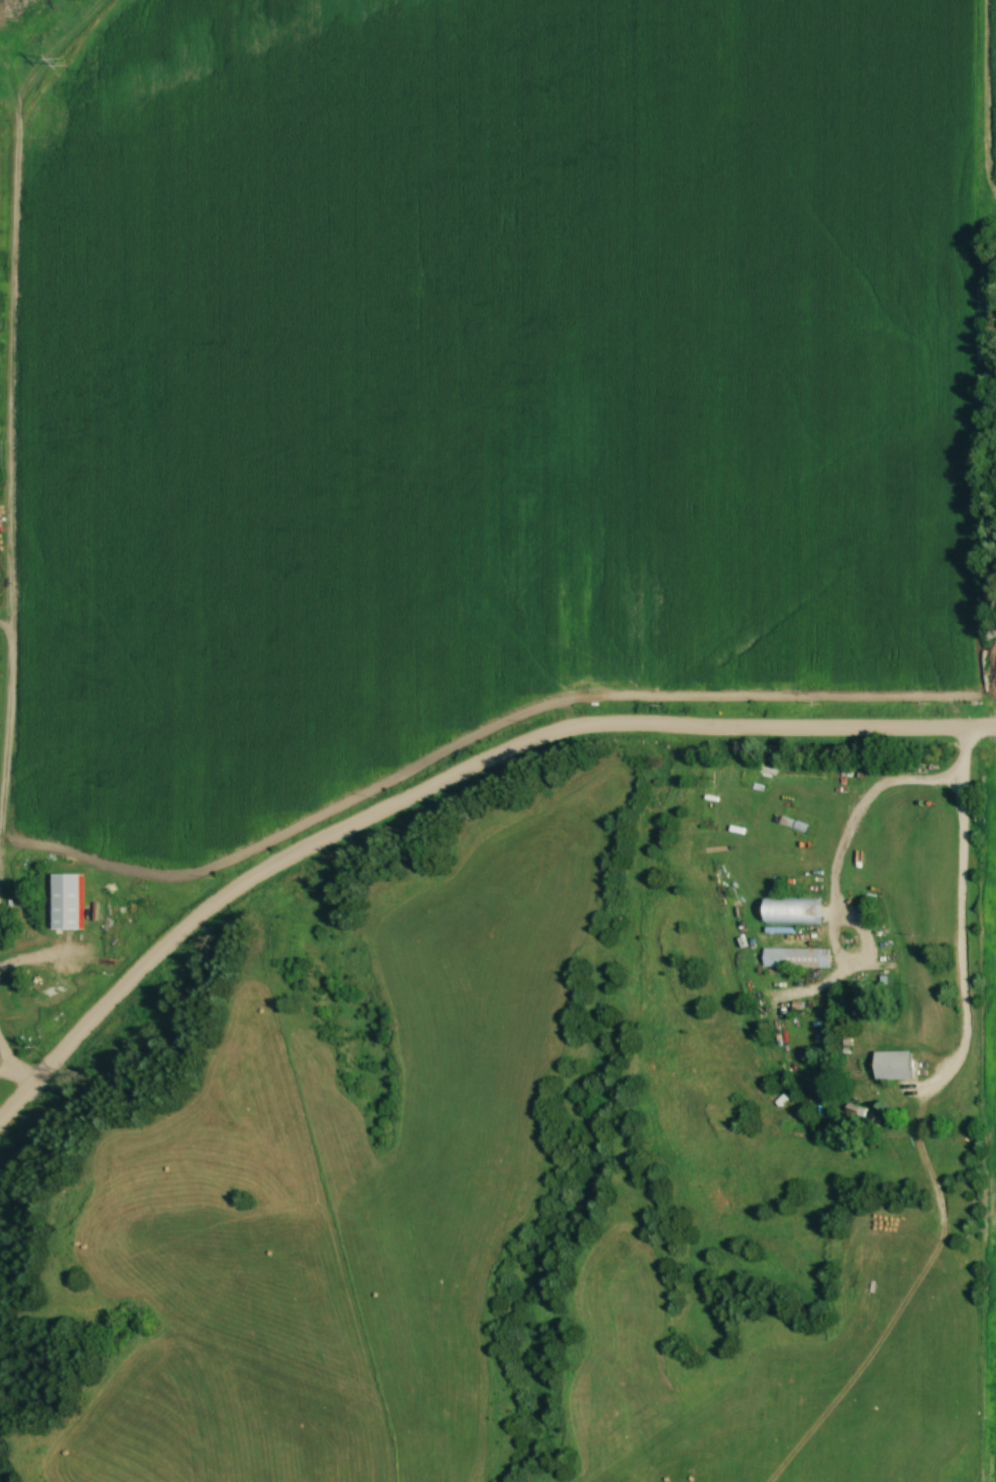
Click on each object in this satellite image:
power tower: (61, 62)
road: (444, 786)
road: (854, 863)
road: (959, 924)
building: (794, 957)
building: (893, 1065)
road: (11, 1071)

